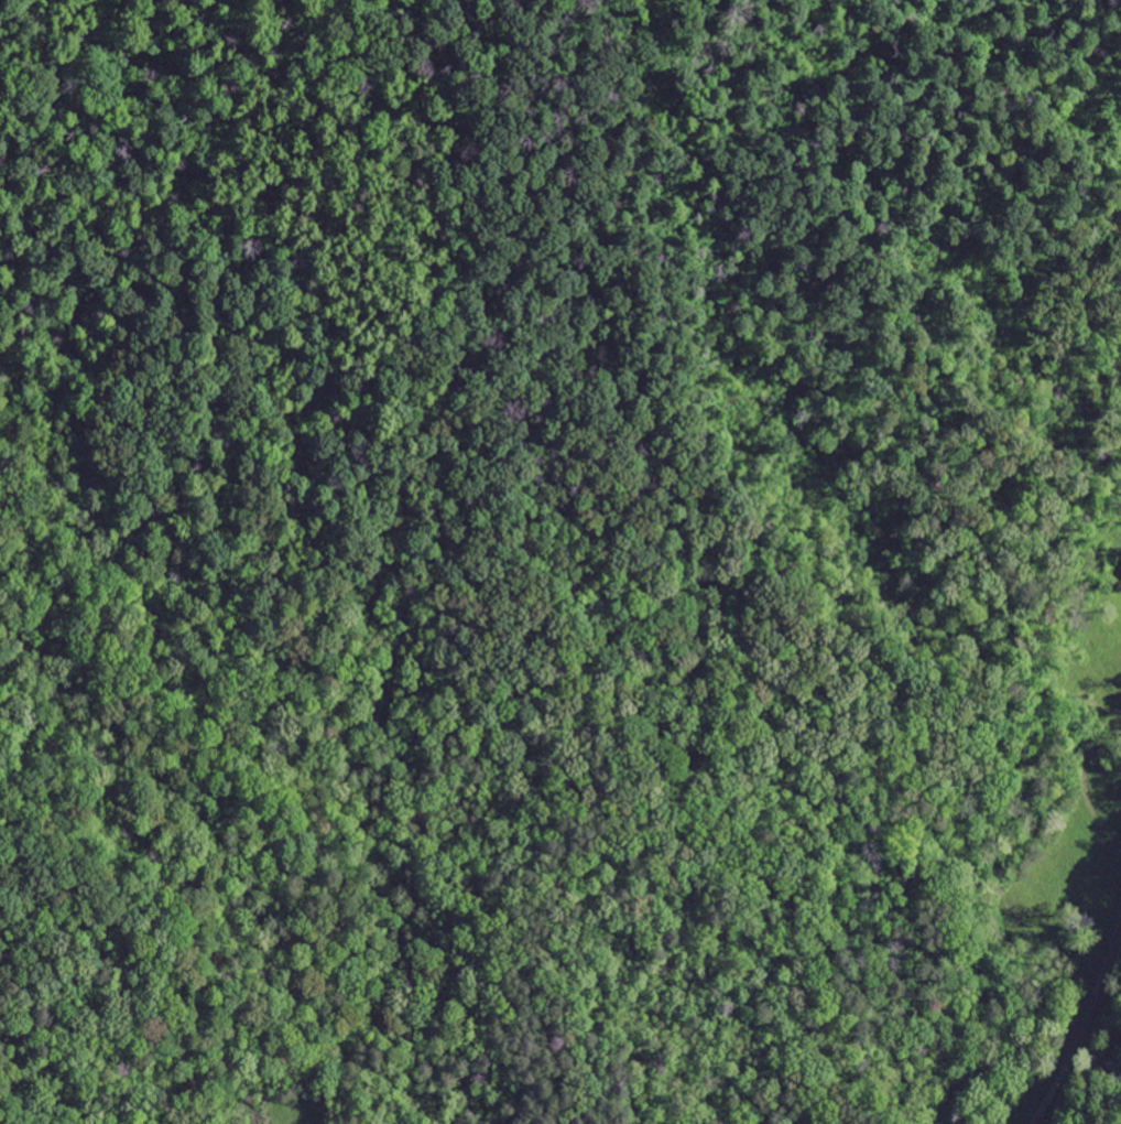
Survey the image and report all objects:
road: (1085, 1033)

